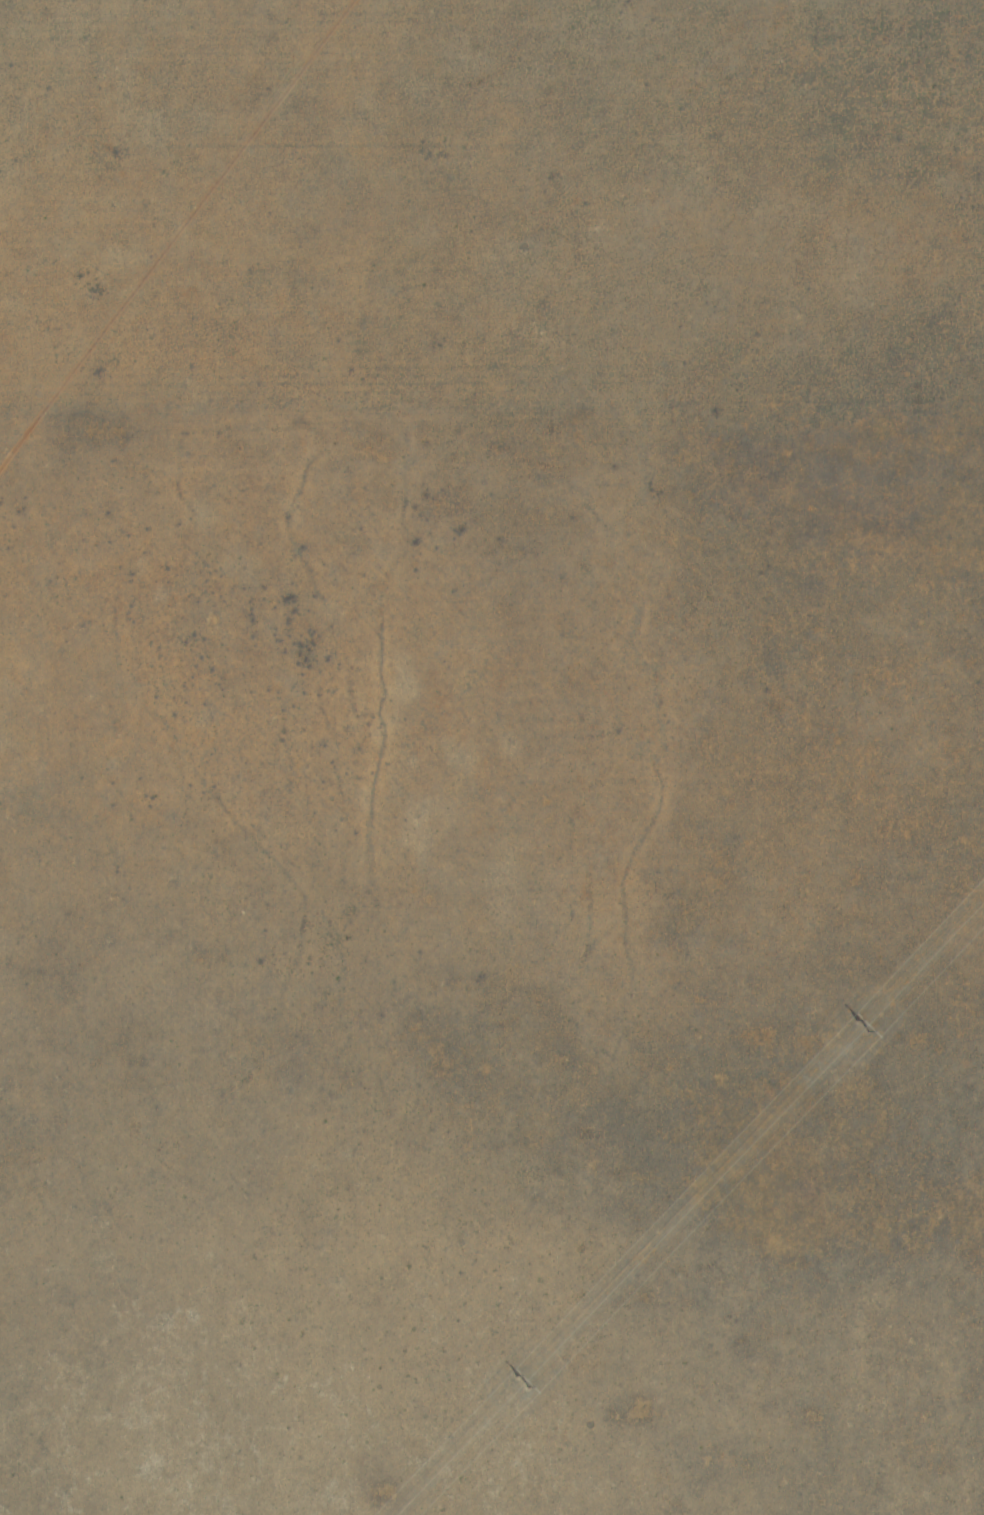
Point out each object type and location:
power tower: (860, 1021)
power tower: (519, 1379)

